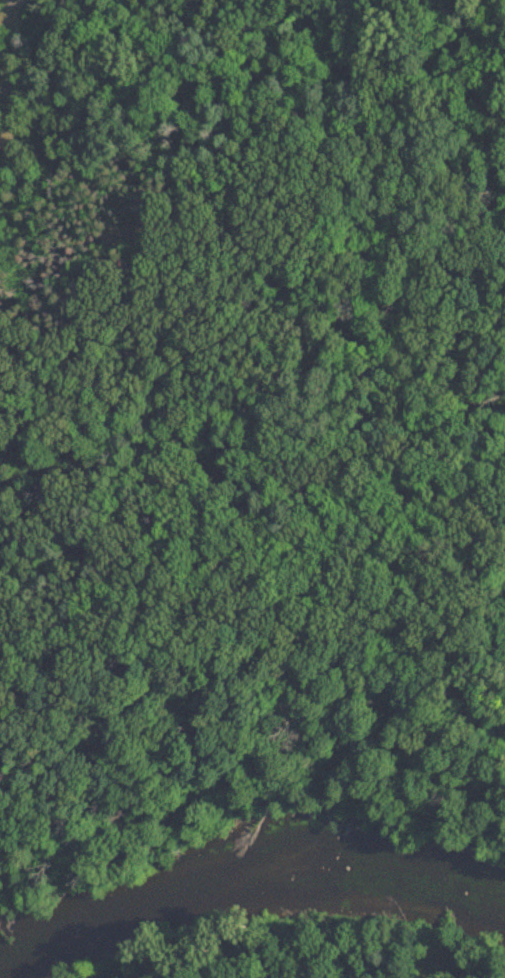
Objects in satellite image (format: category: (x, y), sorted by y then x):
river: (249, 882)

